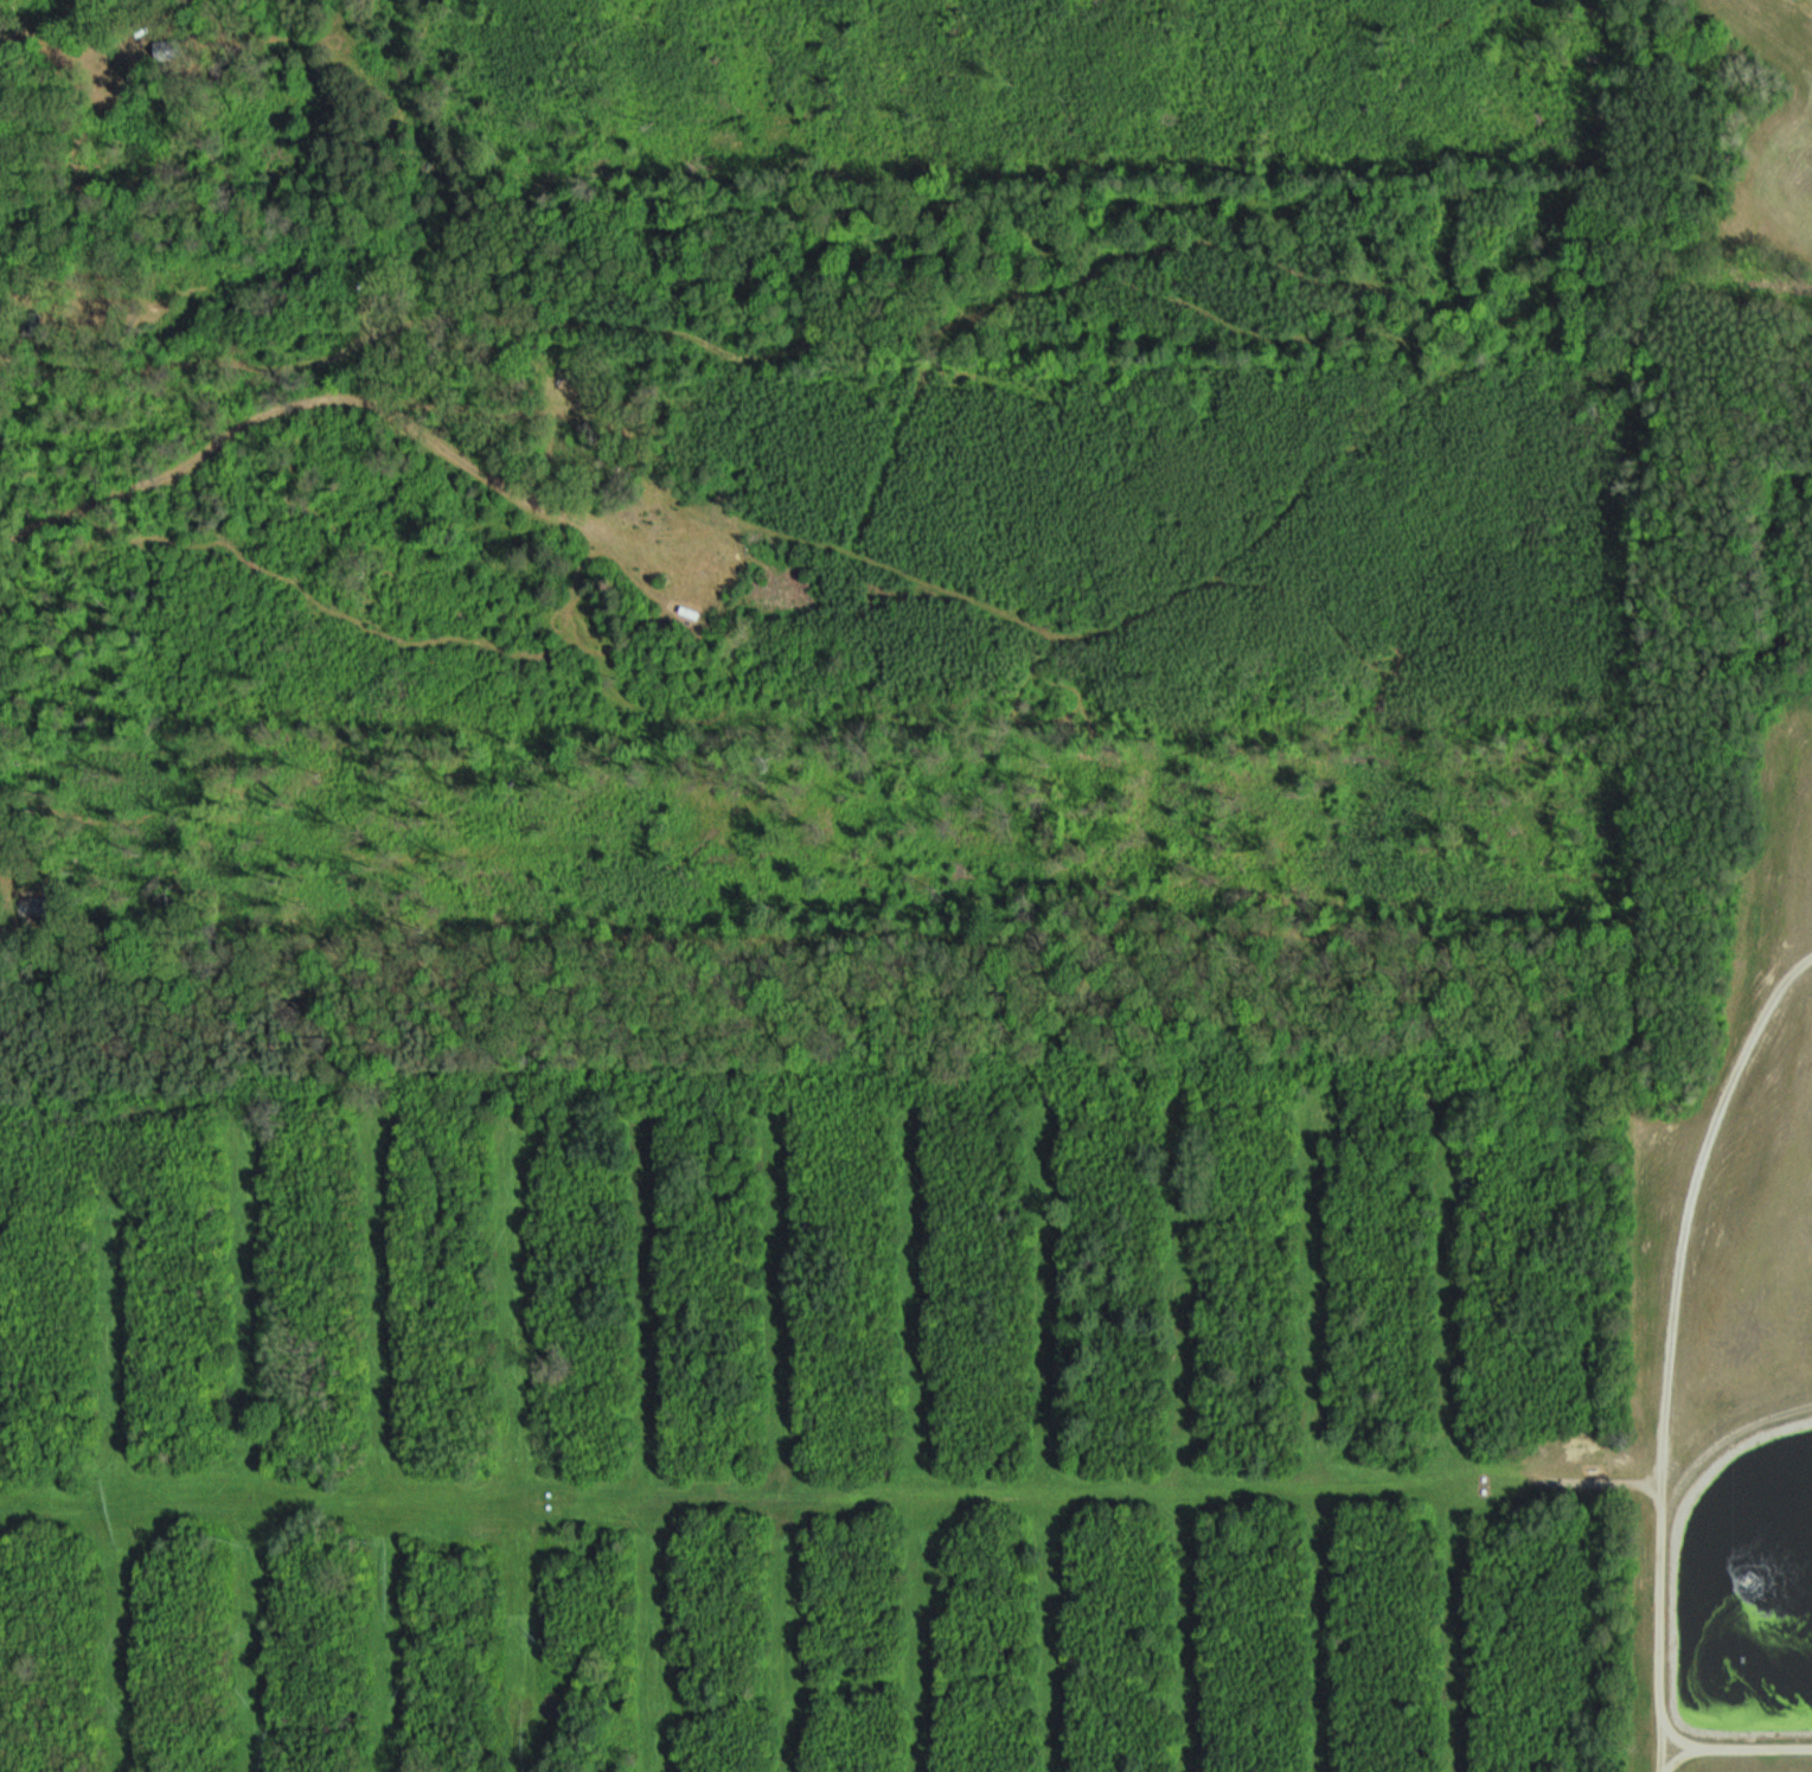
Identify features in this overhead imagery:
road: (15, 91)
park: (1704, 185)
wastewater plant: (1709, 1058)

